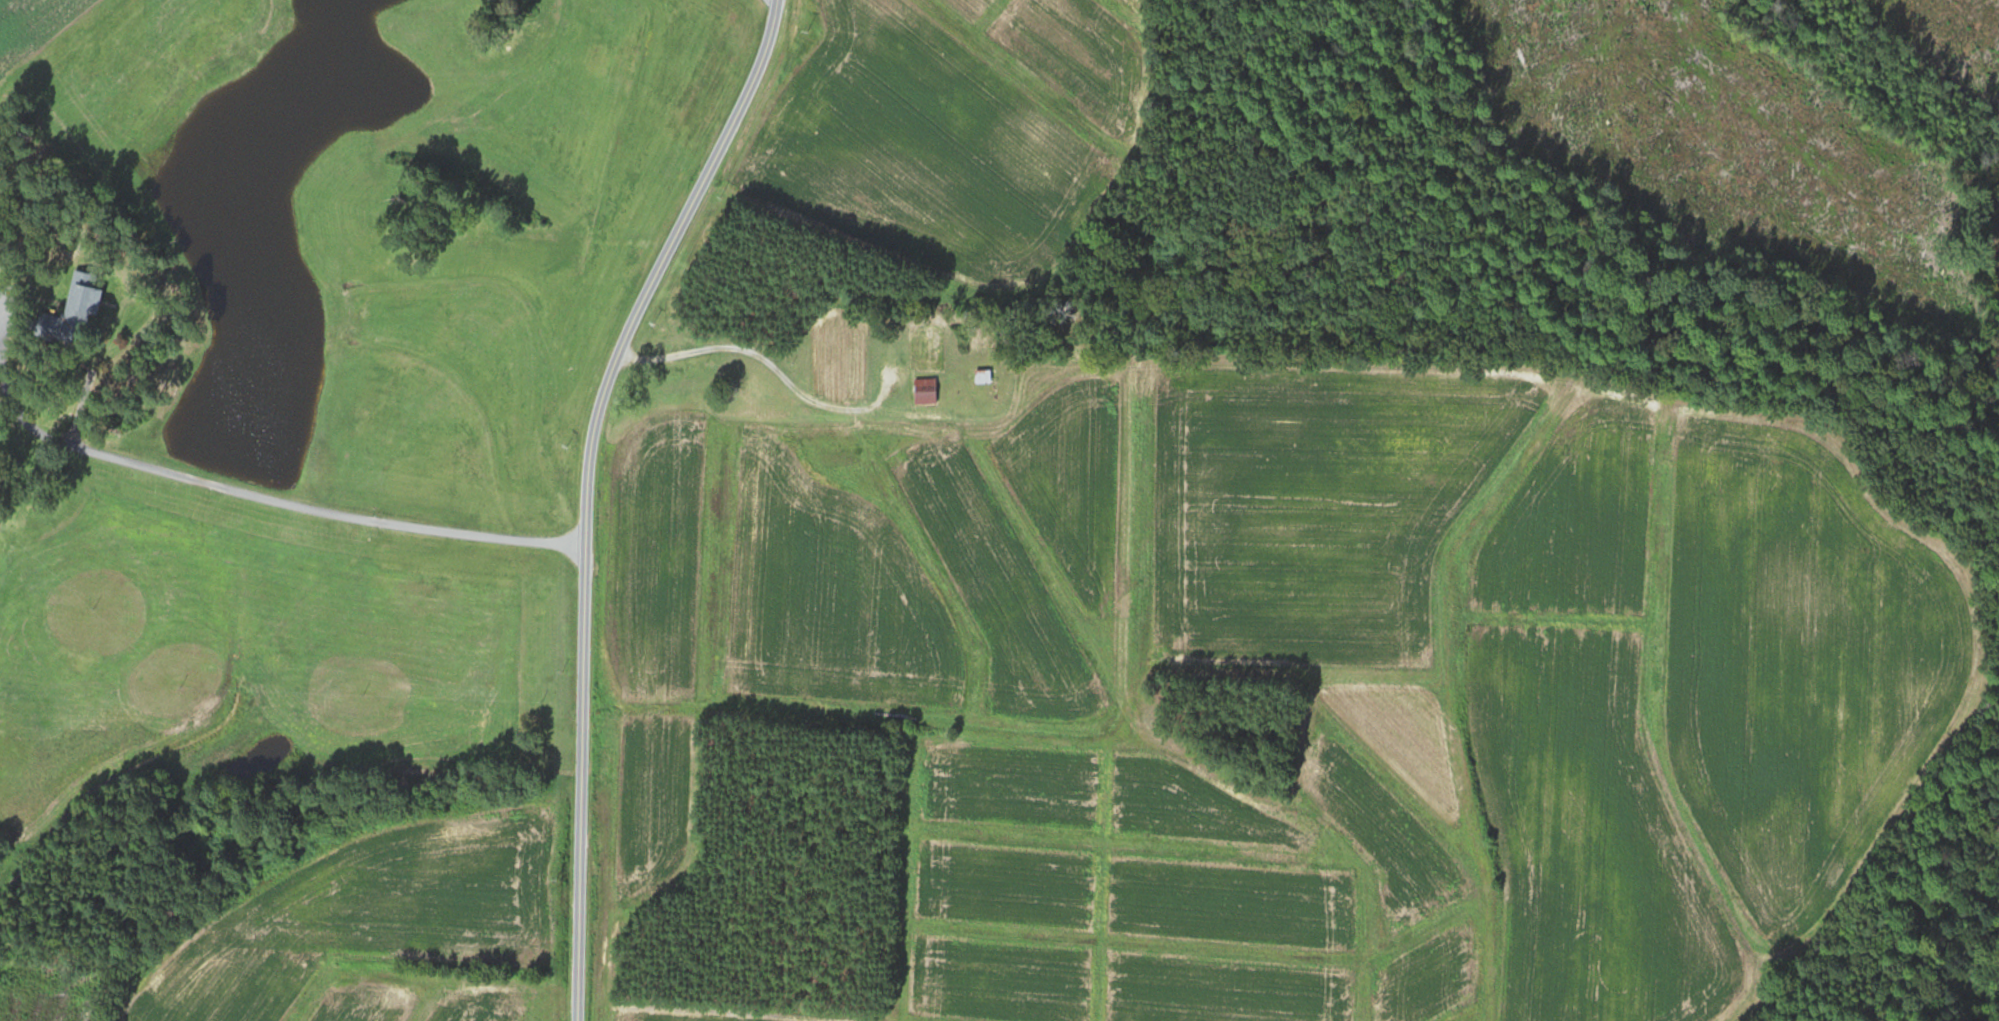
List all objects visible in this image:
building: (69, 311)
building: (915, 349)
road: (762, 358)
building: (979, 377)
building: (922, 392)
building: (747, 395)
road: (588, 490)
road: (270, 500)

